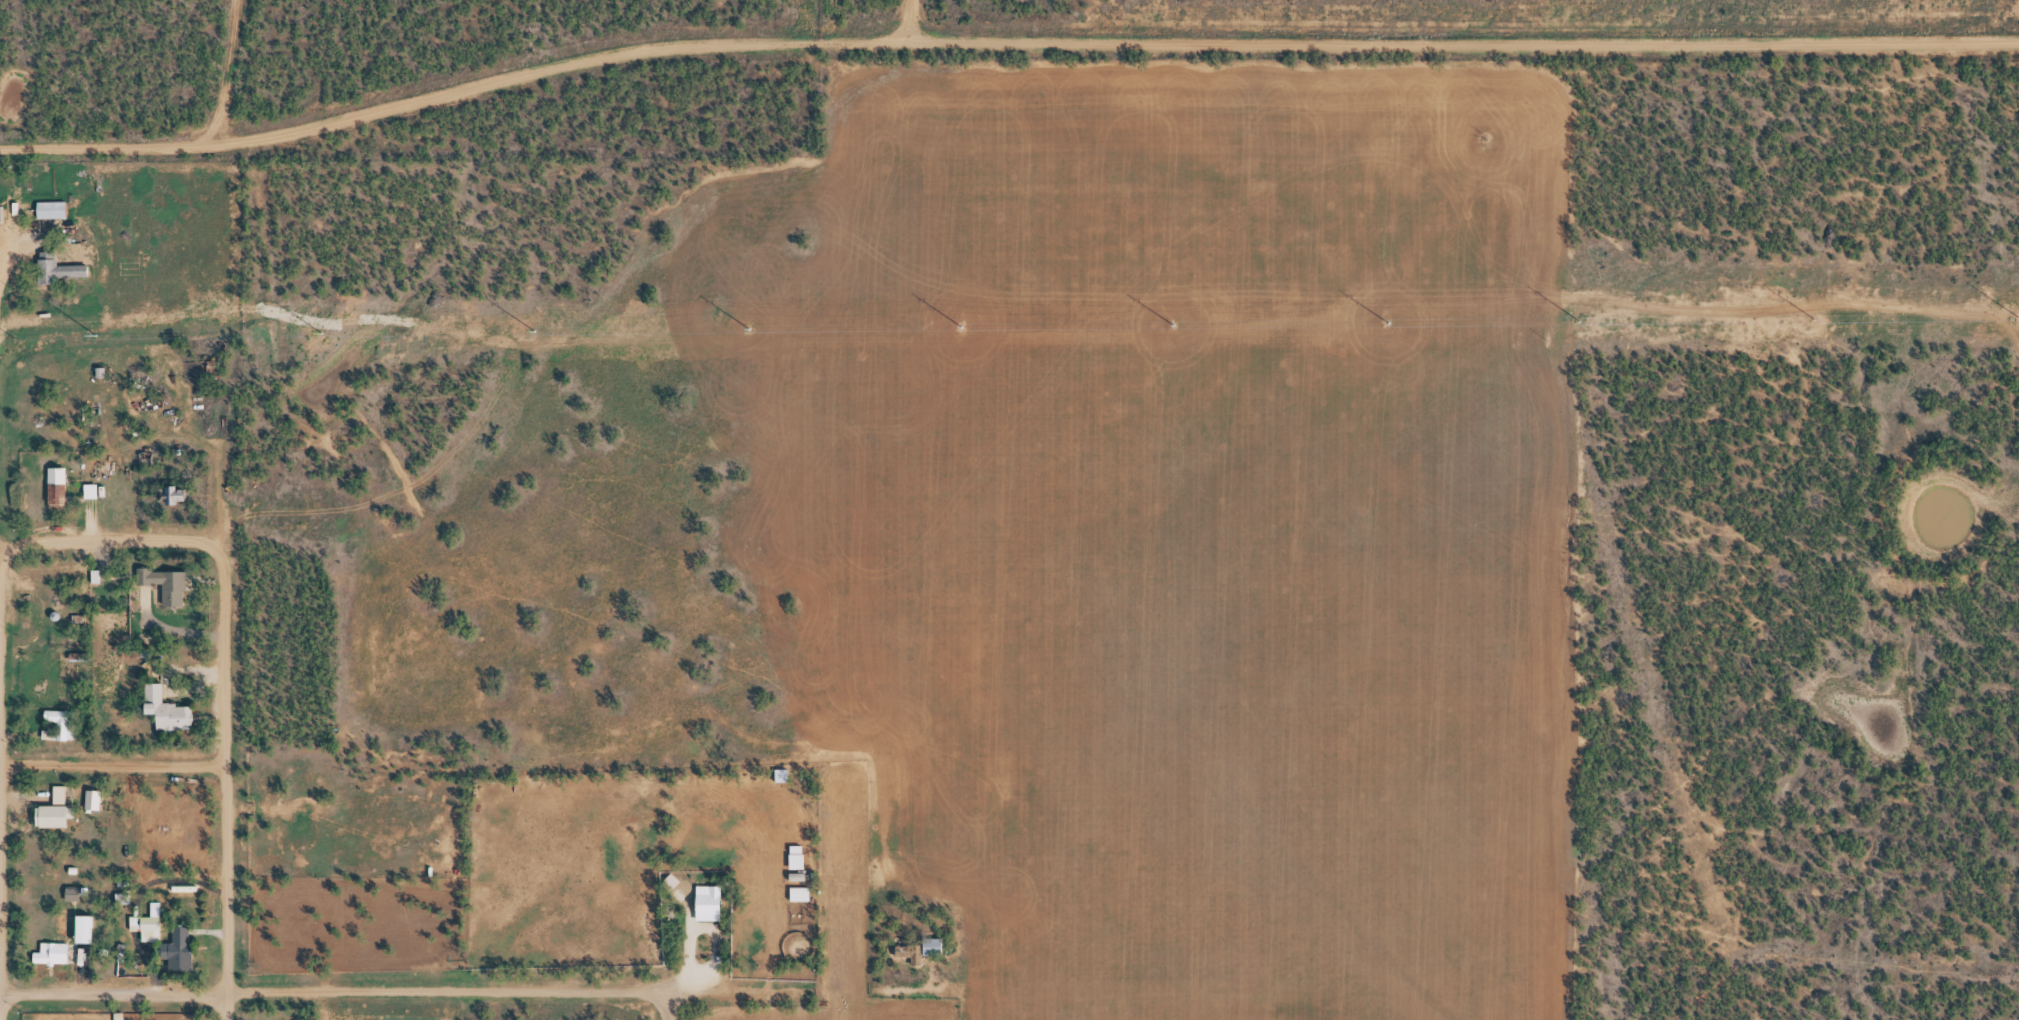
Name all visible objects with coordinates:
road: (913, 22)
road: (1003, 44)
building: (55, 208)
building: (60, 269)
building: (61, 485)
building: (93, 488)
building: (180, 489)
building: (168, 494)
road: (119, 541)
building: (98, 575)
building: (172, 582)
building: (173, 706)
building: (63, 723)
road: (112, 767)
building: (787, 772)
building: (97, 795)
road: (224, 797)
building: (89, 800)
building: (58, 812)
building: (75, 891)
building: (803, 892)
building: (715, 899)
building: (90, 924)
building: (143, 927)
building: (156, 927)
building: (80, 928)
building: (185, 938)
building: (928, 946)
building: (171, 949)
building: (903, 951)
building: (56, 952)
road: (382, 992)
road: (664, 1006)

